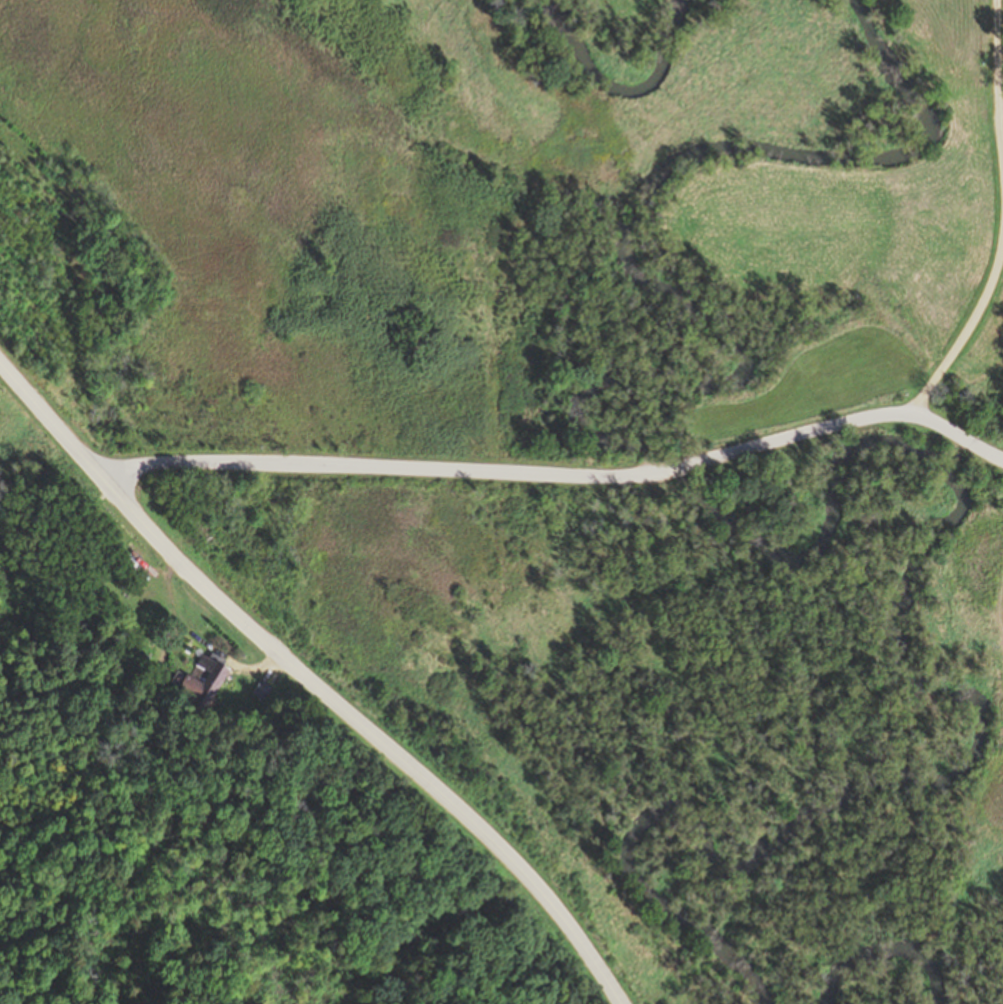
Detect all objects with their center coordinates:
river: (607, 89)
road: (1000, 216)
road: (561, 477)
river: (826, 517)
road: (170, 642)
road: (202, 642)
building: (204, 679)
road: (312, 681)
building: (262, 689)
river: (886, 974)

